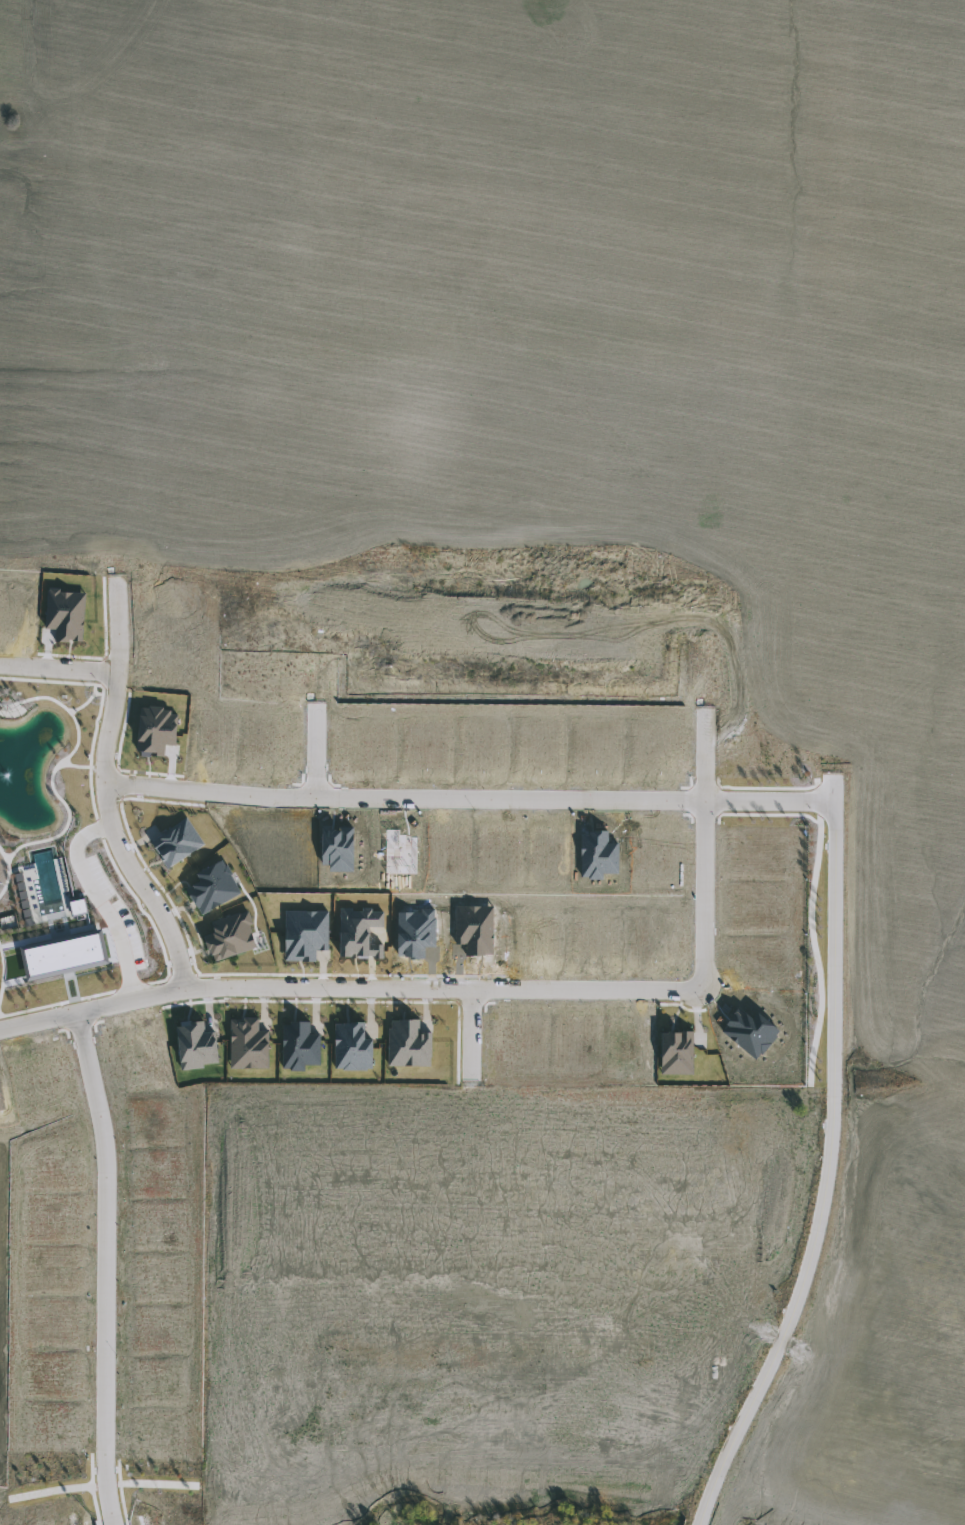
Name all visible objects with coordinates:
crop: (552, 454)
building: (65, 614)
road: (60, 671)
road: (95, 695)
road: (103, 703)
road: (84, 706)
road: (64, 707)
building: (154, 731)
road: (318, 754)
road: (105, 769)
road: (121, 786)
road: (108, 795)
road: (471, 801)
road: (70, 813)
road: (101, 830)
building: (178, 842)
road: (705, 851)
road: (9, 874)
building: (212, 886)
road: (102, 902)
building: (79, 905)
parking lot: (113, 915)
road: (148, 916)
building: (476, 926)
building: (416, 931)
building: (305, 934)
building: (359, 934)
building: (230, 935)
road: (191, 947)
building: (64, 952)
road: (4, 978)
road: (132, 989)
road: (349, 990)
road: (58, 1005)
road: (471, 1036)
building: (249, 1043)
building: (408, 1043)
building: (196, 1044)
building: (298, 1044)
building: (352, 1046)
road: (830, 1163)
road: (107, 1268)

